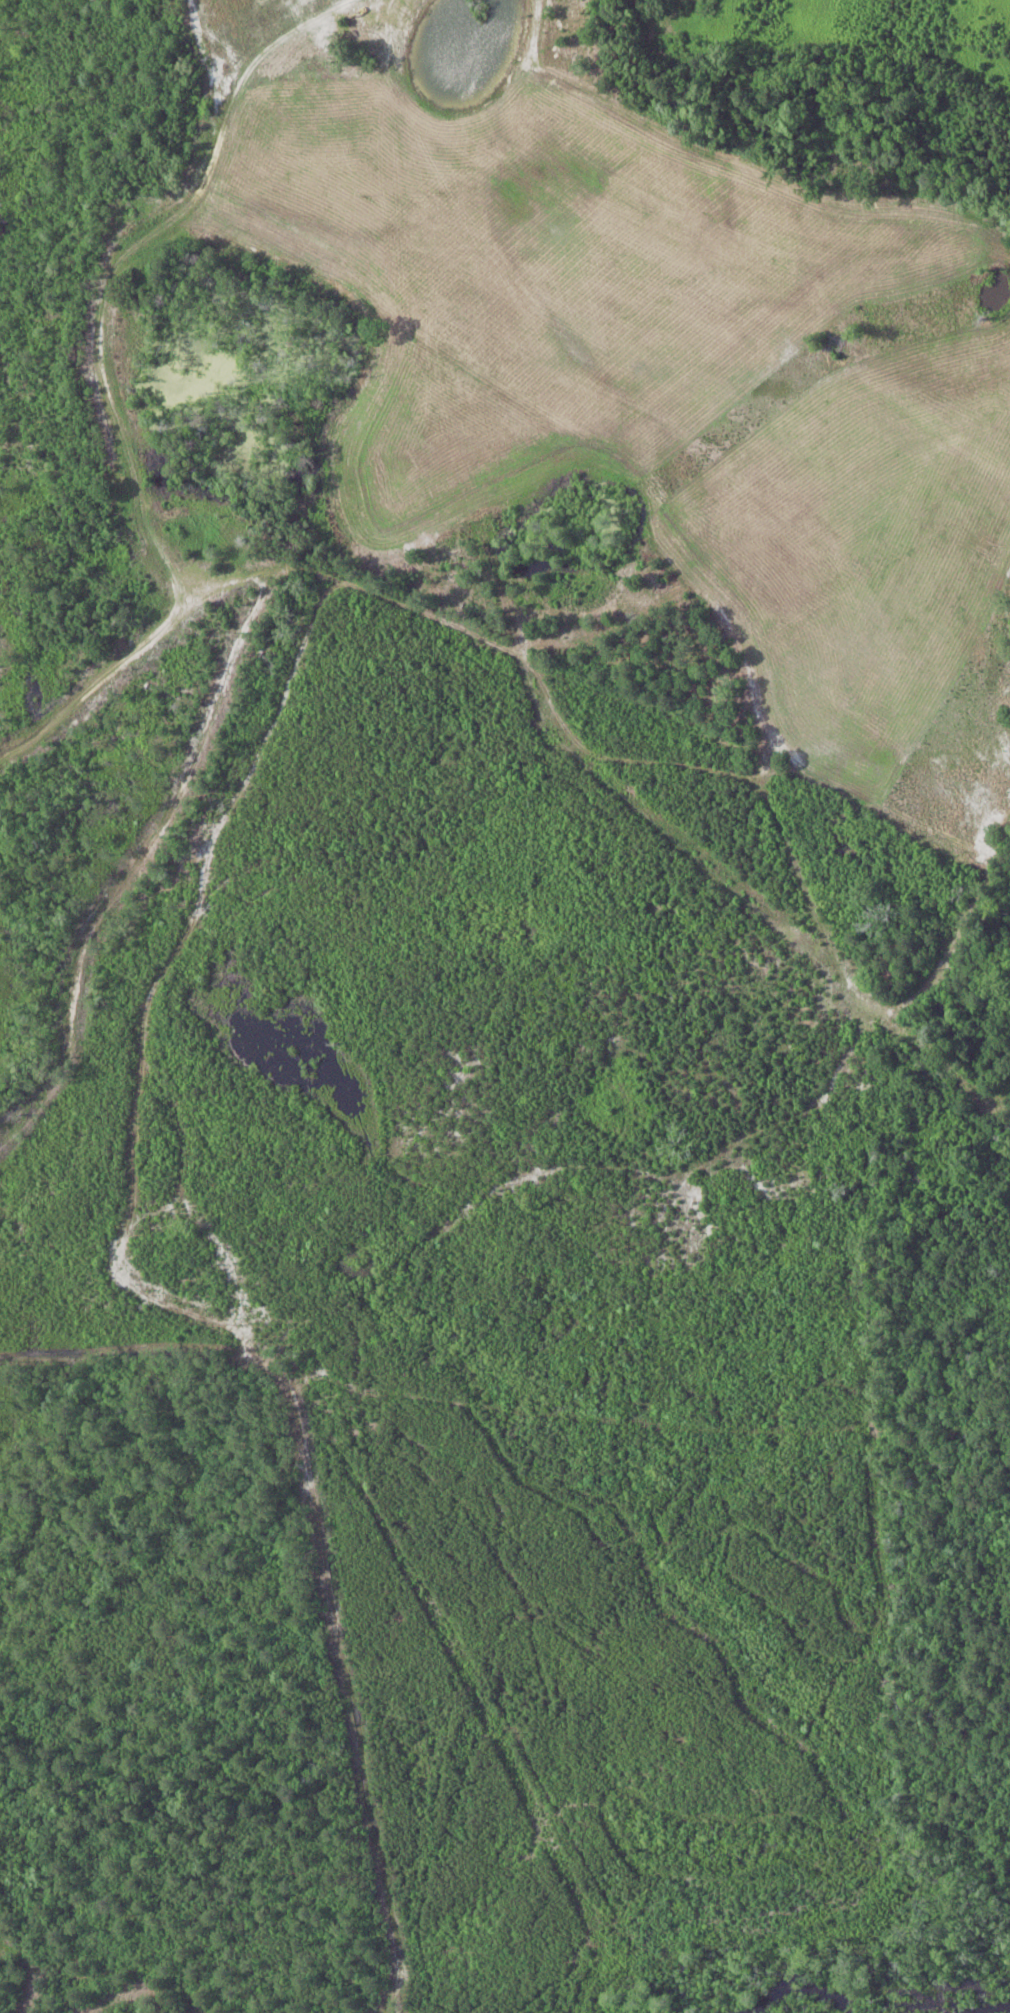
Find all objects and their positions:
road: (881, 956)
building: (890, 971)
building: (943, 1009)
building: (823, 1174)

